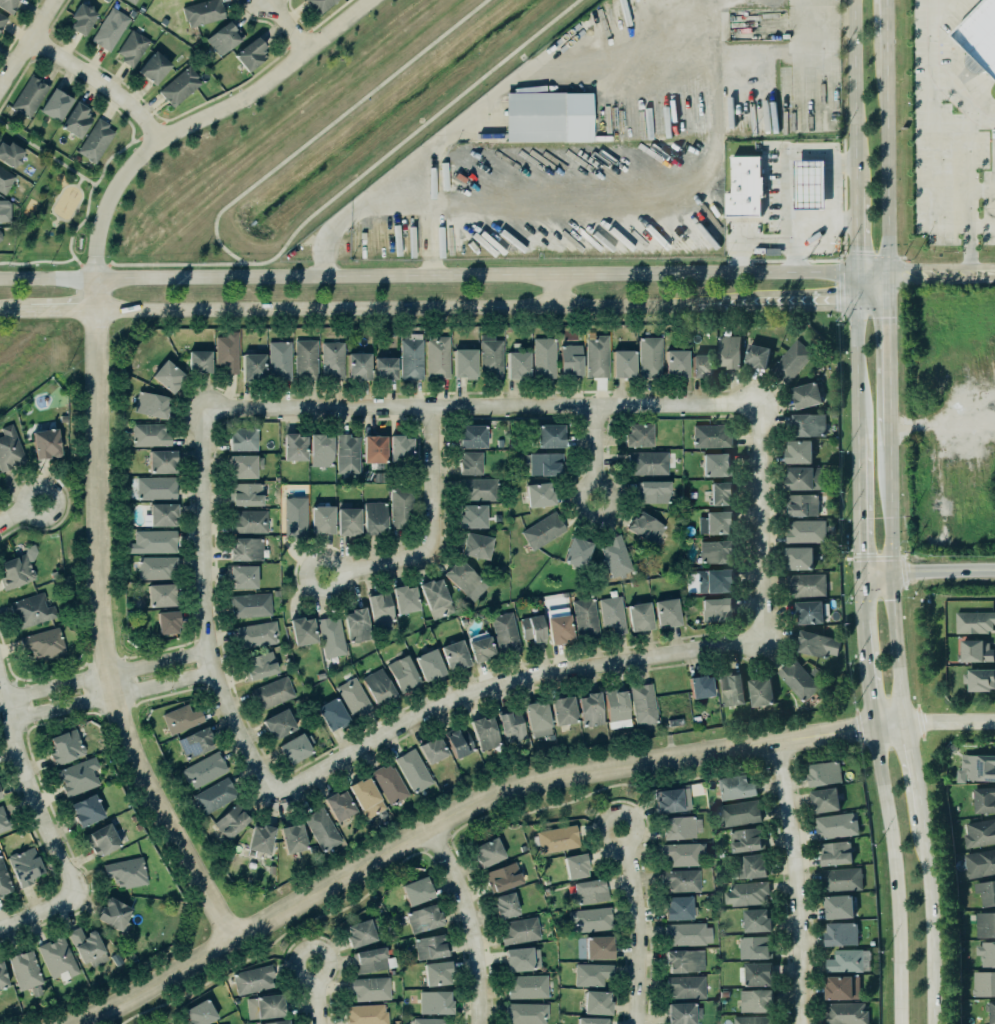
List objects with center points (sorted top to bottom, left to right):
building: (130, 1)
building: (319, 4)
road: (942, 4)
building: (7, 5)
building: (201, 11)
building: (82, 19)
building: (2, 20)
road: (284, 25)
building: (108, 28)
road: (887, 29)
building: (224, 37)
building: (979, 38)
road: (29, 45)
building: (131, 47)
building: (250, 54)
building: (153, 67)
road: (537, 74)
road: (100, 85)
building: (179, 85)
road: (855, 93)
building: (29, 95)
building: (55, 105)
building: (547, 116)
road: (202, 119)
building: (76, 120)
road: (163, 121)
road: (129, 122)
road: (150, 129)
road: (967, 130)
road: (136, 138)
building: (96, 141)
road: (39, 148)
building: (10, 154)
road: (107, 158)
road: (888, 166)
road: (784, 167)
road: (933, 169)
road: (87, 179)
building: (5, 180)
road: (78, 180)
building: (810, 185)
building: (744, 187)
road: (981, 188)
road: (829, 192)
road: (57, 196)
park: (62, 200)
road: (75, 206)
road: (426, 212)
building: (4, 213)
road: (56, 219)
road: (81, 220)
road: (981, 225)
road: (859, 230)
building: (0, 235)
road: (798, 239)
road: (752, 242)
road: (36, 260)
road: (77, 261)
road: (257, 264)
road: (169, 265)
road: (982, 274)
traffic signals: (860, 275)
road: (874, 275)
traffic signals: (889, 275)
road: (929, 275)
road: (429, 276)
road: (860, 289)
road: (874, 289)
road: (557, 290)
road: (776, 303)
traffic signals: (860, 303)
road: (394, 307)
road: (15, 311)
road: (64, 311)
road: (889, 336)
building: (227, 351)
building: (729, 351)
building: (412, 356)
building: (438, 356)
building: (597, 356)
building: (757, 356)
building: (332, 357)
building: (544, 357)
building: (649, 357)
building: (491, 358)
building: (306, 359)
building: (278, 360)
building: (571, 360)
building: (199, 361)
building: (790, 362)
building: (464, 363)
building: (623, 363)
building: (676, 363)
building: (517, 364)
building: (359, 365)
building: (253, 366)
building: (702, 366)
road: (860, 367)
building: (384, 368)
building: (166, 375)
building: (807, 395)
building: (152, 404)
road: (482, 405)
road: (890, 420)
road: (942, 421)
building: (809, 424)
building: (151, 434)
building: (549, 435)
building: (639, 435)
building: (471, 436)
building: (711, 436)
building: (242, 438)
building: (46, 443)
building: (293, 447)
building: (9, 448)
building: (373, 449)
building: (321, 450)
building: (399, 450)
road: (594, 450)
building: (798, 452)
building: (346, 453)
building: (162, 461)
building: (647, 462)
building: (470, 463)
building: (545, 464)
building: (715, 464)
building: (242, 466)
road: (861, 475)
building: (804, 479)
building: (156, 488)
building: (477, 489)
building: (652, 492)
building: (245, 493)
building: (720, 493)
building: (540, 494)
building: (802, 505)
building: (400, 507)
road: (18, 513)
building: (163, 514)
building: (472, 516)
building: (295, 517)
building: (374, 517)
building: (322, 519)
building: (248, 520)
building: (348, 521)
road: (759, 521)
building: (716, 523)
building: (646, 527)
building: (542, 529)
road: (433, 531)
building: (805, 531)
building: (154, 541)
building: (474, 544)
road: (861, 545)
building: (245, 549)
building: (576, 552)
building: (717, 552)
building: (615, 556)
building: (799, 558)
building: (155, 566)
building: (13, 568)
road: (928, 570)
building: (243, 576)
building: (464, 579)
building: (714, 581)
road: (893, 583)
building: (806, 585)
building: (161, 595)
road: (863, 595)
building: (435, 598)
building: (404, 599)
building: (251, 605)
road: (207, 606)
building: (381, 609)
building: (717, 609)
building: (30, 610)
building: (666, 612)
building: (809, 612)
building: (613, 613)
building: (639, 616)
building: (584, 618)
building: (168, 622)
building: (975, 622)
road: (102, 623)
building: (357, 625)
building: (532, 628)
building: (560, 629)
building: (302, 630)
building: (504, 632)
road: (866, 634)
building: (256, 635)
building: (331, 636)
building: (44, 644)
building: (818, 644)
building: (480, 648)
building: (976, 651)
building: (454, 654)
building: (258, 665)
building: (429, 665)
building: (402, 672)
road: (107, 673)
building: (797, 679)
building: (981, 680)
road: (506, 681)
building: (378, 686)
building: (701, 686)
road: (872, 688)
building: (732, 690)
building: (760, 692)
building: (272, 693)
road: (116, 697)
building: (353, 697)
building: (643, 704)
building: (617, 708)
building: (591, 709)
building: (563, 710)
building: (331, 713)
building: (181, 718)
building: (537, 719)
building: (279, 724)
road: (950, 725)
building: (512, 726)
building: (484, 732)
building: (457, 738)
building: (194, 743)
building: (66, 746)
building: (294, 749)
building: (431, 749)
road: (909, 756)
building: (976, 768)
building: (202, 769)
building: (414, 770)
building: (823, 774)
building: (76, 776)
building: (390, 783)
road: (34, 785)
building: (734, 787)
building: (213, 795)
building: (367, 797)
building: (668, 800)
building: (825, 800)
building: (984, 800)
building: (340, 805)
building: (86, 810)
building: (739, 812)
road: (468, 814)
building: (3, 821)
building: (231, 821)
building: (835, 826)
building: (678, 827)
building: (321, 828)
building: (980, 833)
building: (261, 838)
building: (292, 838)
building: (556, 838)
building: (101, 840)
building: (746, 840)
building: (487, 852)
building: (835, 853)
building: (682, 854)
road: (892, 862)
building: (980, 864)
building: (25, 866)
building: (575, 866)
building: (751, 866)
building: (126, 872)
building: (503, 877)
building: (840, 879)
building: (4, 880)
building: (681, 880)
road: (795, 882)
building: (416, 891)
building: (587, 892)
building: (986, 892)
building: (747, 894)
road: (927, 894)
building: (505, 905)
building: (839, 907)
building: (677, 908)
building: (115, 914)
road: (37, 915)
building: (424, 918)
building: (589, 919)
building: (756, 921)
road: (472, 922)
road: (636, 925)
building: (985, 925)
building: (518, 930)
building: (360, 933)
building: (840, 933)
building: (688, 934)
building: (87, 946)
building: (431, 946)
building: (597, 947)
building: (753, 947)
building: (986, 954)
building: (58, 957)
building: (523, 959)
building: (371, 960)
building: (685, 960)
building: (845, 962)
building: (25, 969)
building: (436, 973)
building: (759, 974)
building: (592, 975)
building: (2, 976)
building: (252, 979)
building: (984, 984)
building: (526, 986)
building: (685, 986)
building: (371, 988)
building: (841, 988)
road: (316, 994)
building: (754, 1001)
building: (435, 1002)
building: (597, 1002)
building: (264, 1006)
building: (198, 1009)
road: (899, 1011)
road: (932, 1011)
building: (363, 1012)
building: (992, 1012)
building: (525, 1013)
building: (681, 1013)
building: (845, 1013)
building: (590, 1018)
building: (427, 1020)
building: (753, 1020)
building: (275, 1022)

